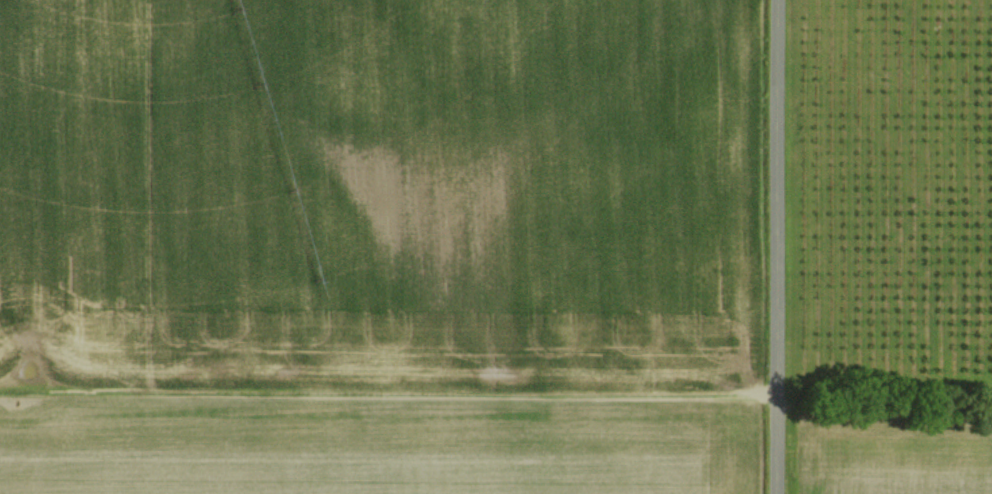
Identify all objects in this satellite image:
road: (776, 247)

